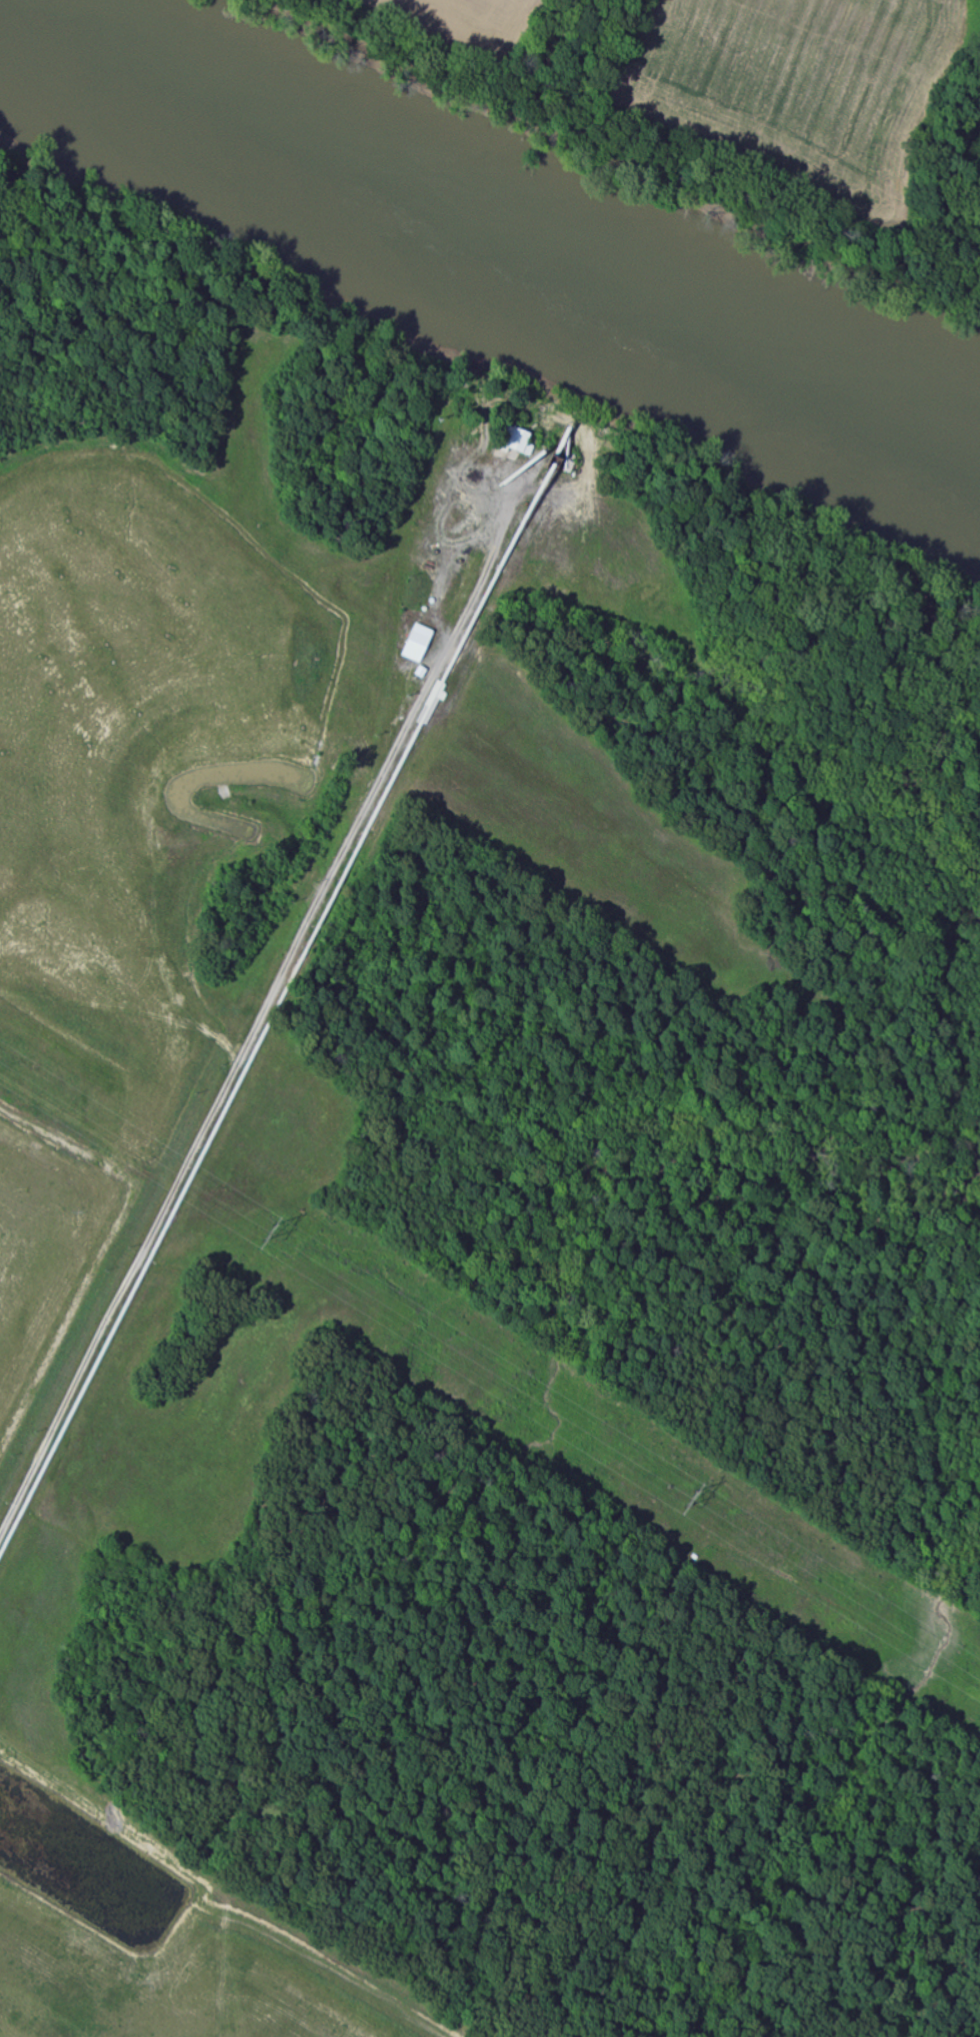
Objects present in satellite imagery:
river: (496, 223)
building: (519, 439)
building: (420, 644)
power tower: (267, 1234)
power tower: (689, 1500)

